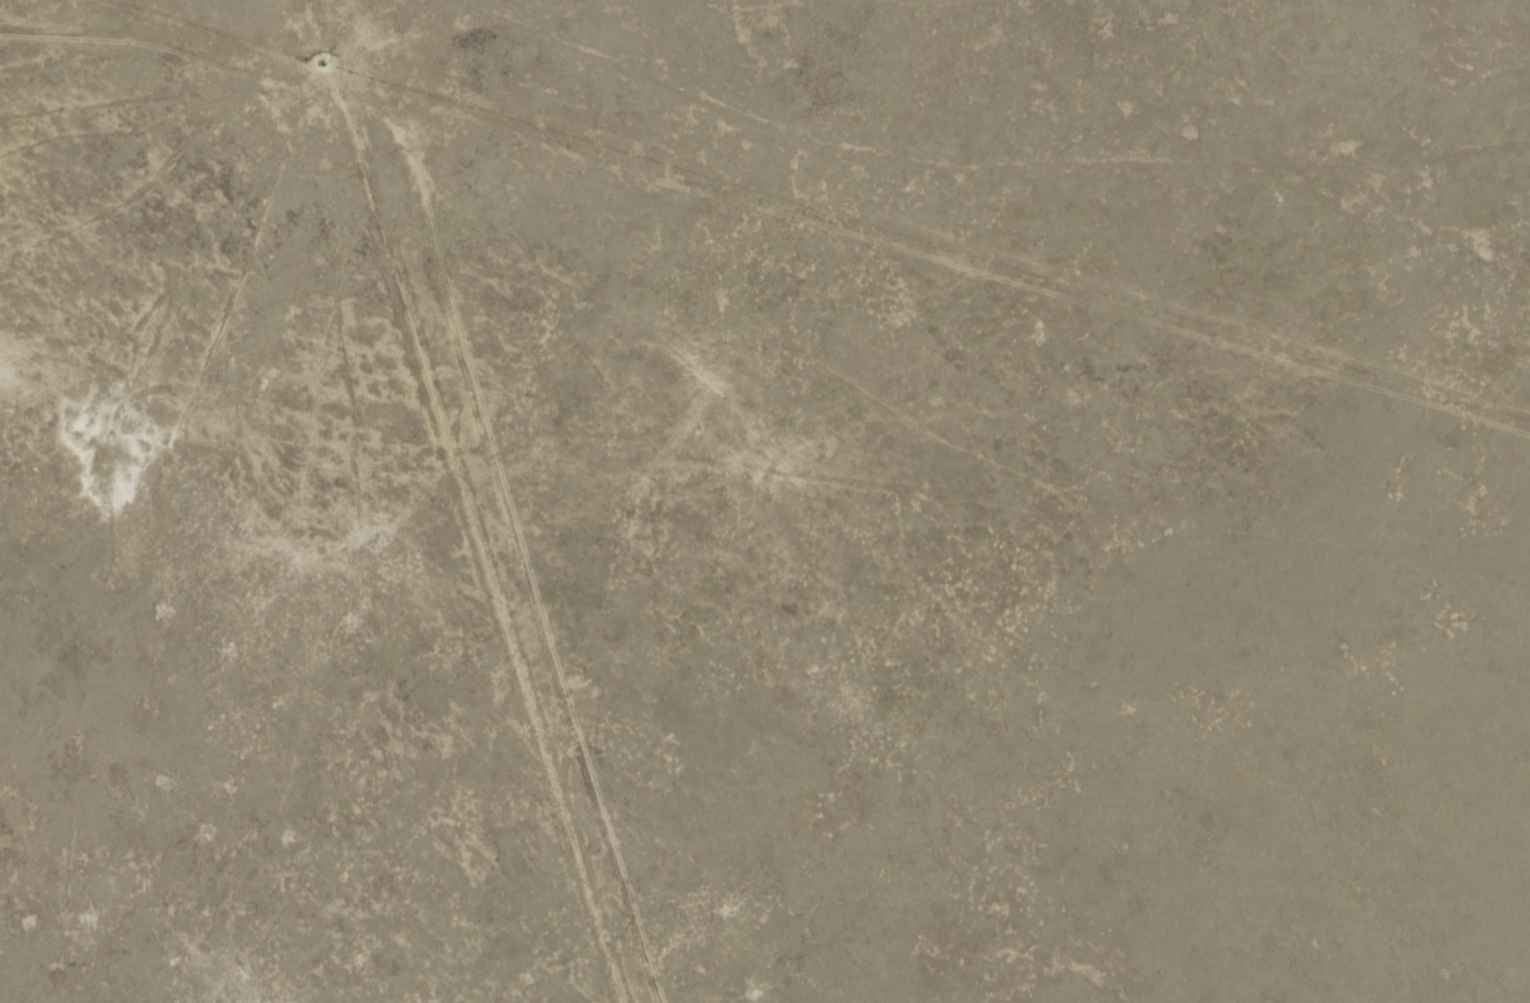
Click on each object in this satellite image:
road: (459, 451)

